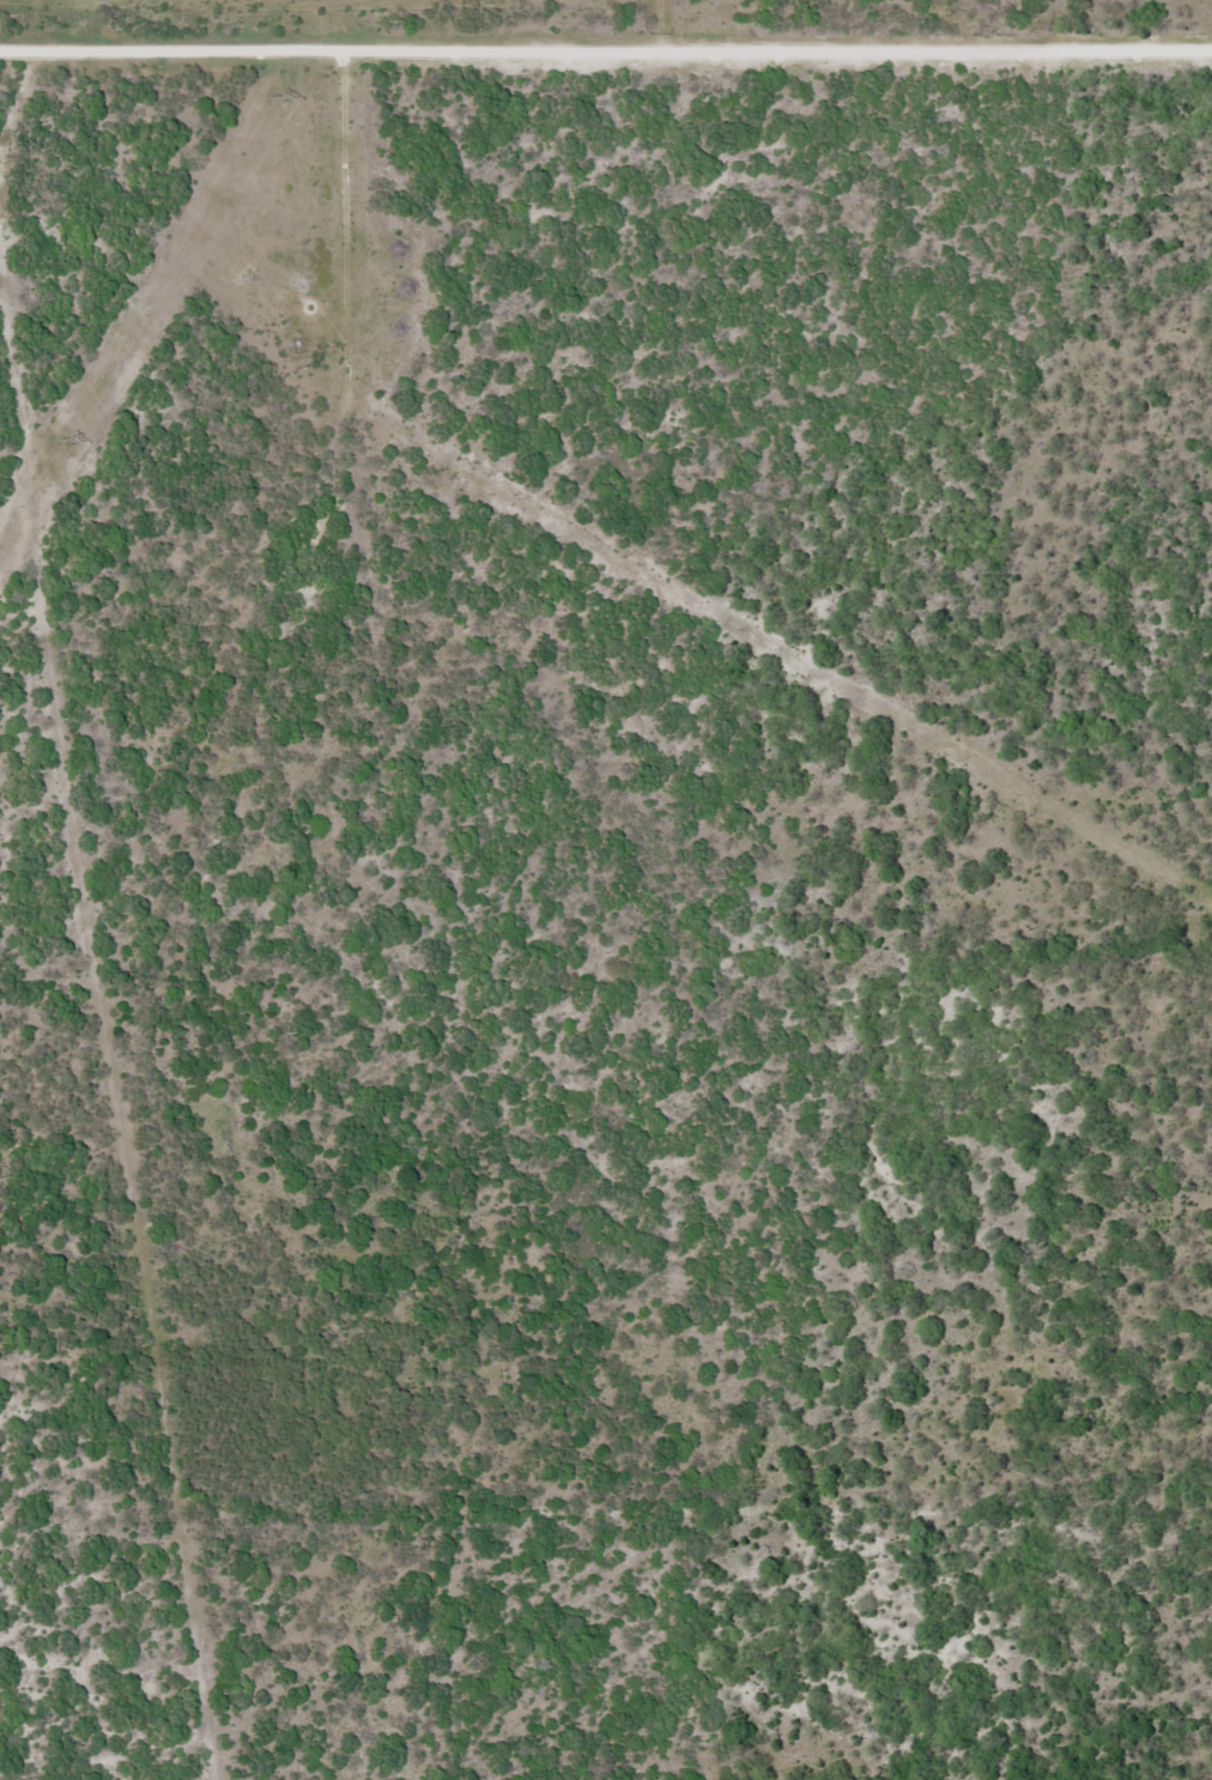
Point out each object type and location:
road: (653, 25)
power tower: (263, 41)
road: (606, 49)
power tower: (62, 441)

